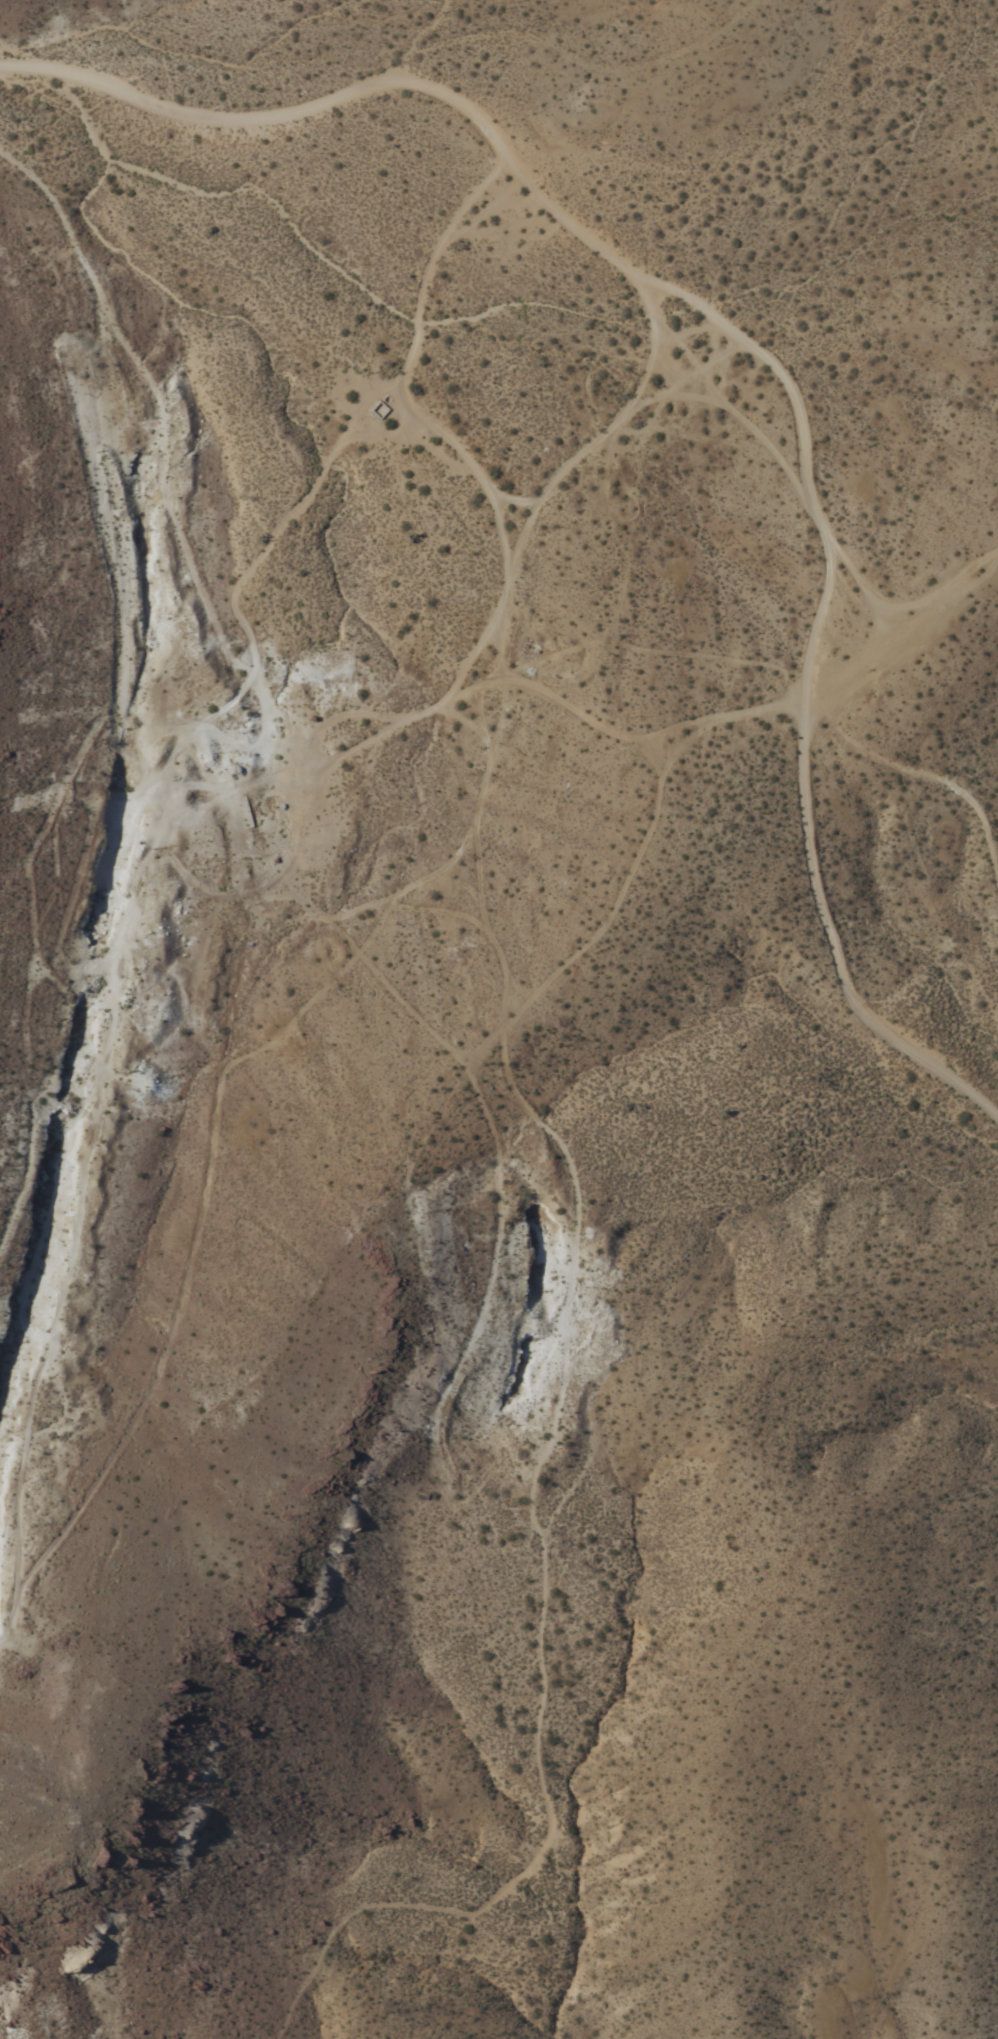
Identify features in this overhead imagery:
road: (555, 210)
road: (422, 261)
road: (402, 402)
building: (375, 411)
road: (742, 422)
road: (357, 436)
road: (464, 470)
road: (482, 479)
road: (263, 543)
road: (859, 586)
road: (905, 630)
road: (330, 722)
road: (647, 736)
road: (919, 776)
road: (484, 792)
road: (181, 1274)
road: (525, 1513)

